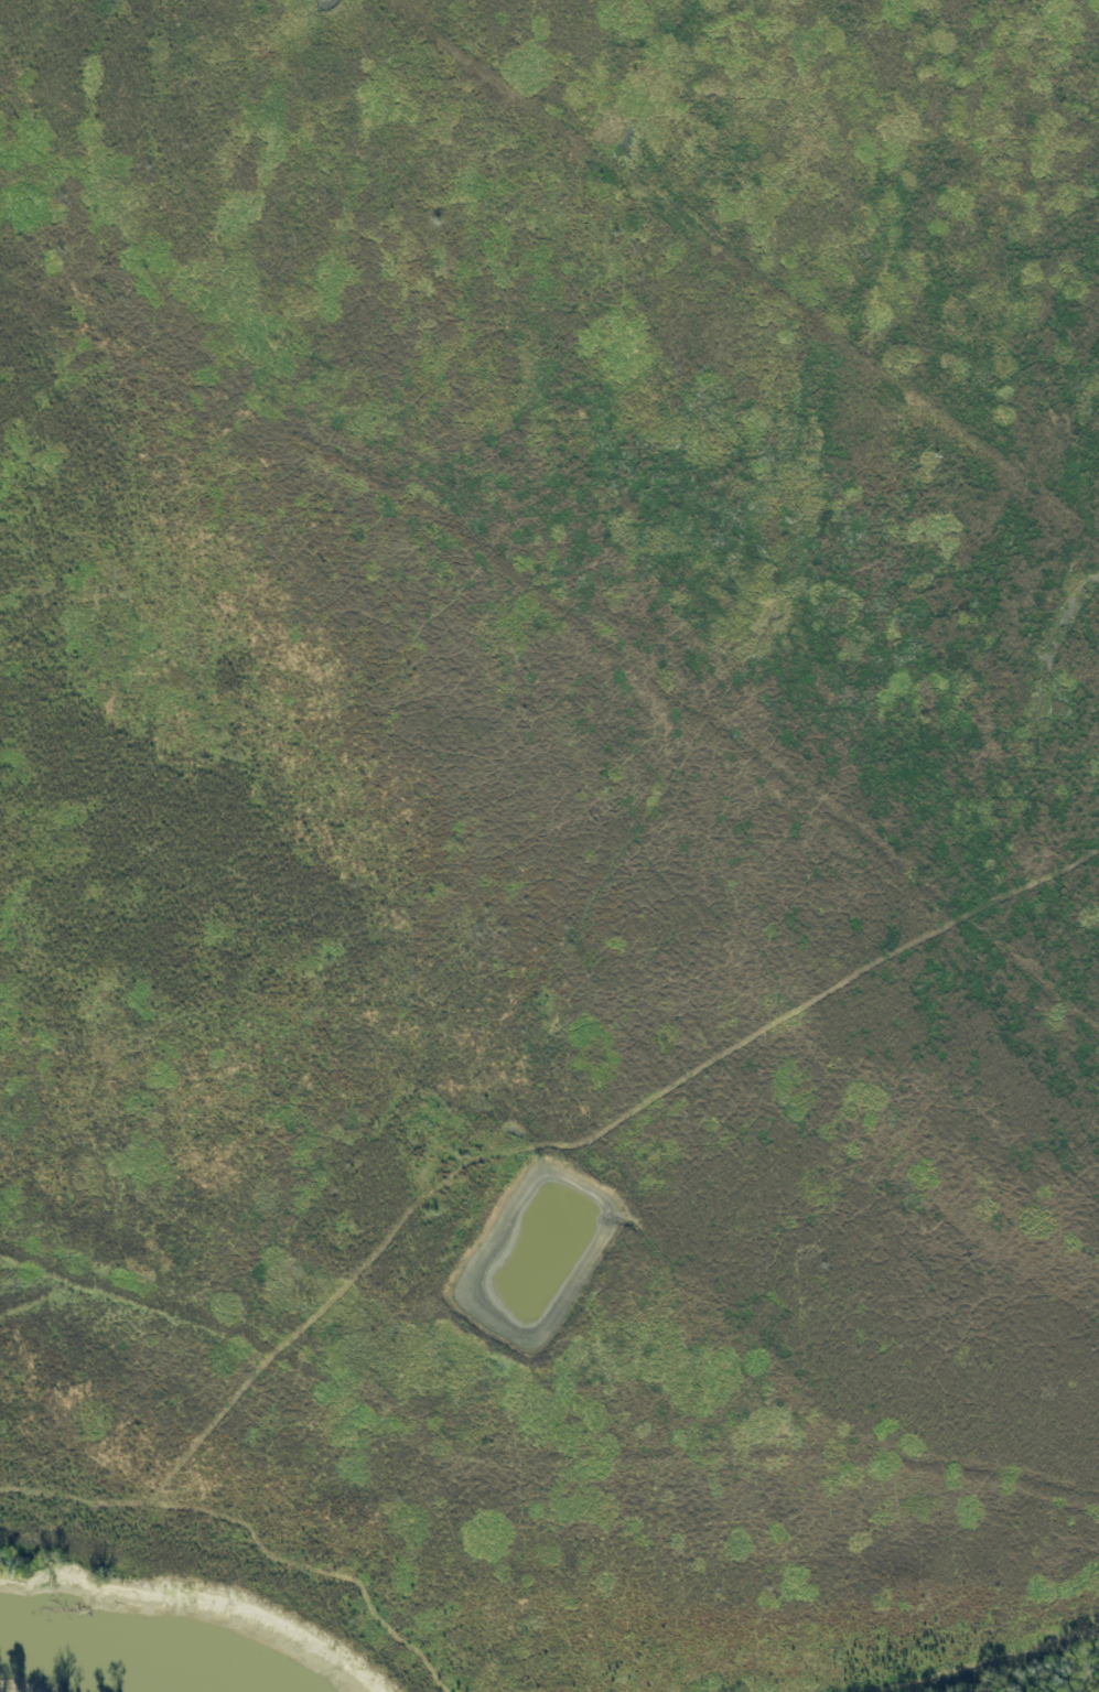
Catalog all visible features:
river: (96, 1664)

